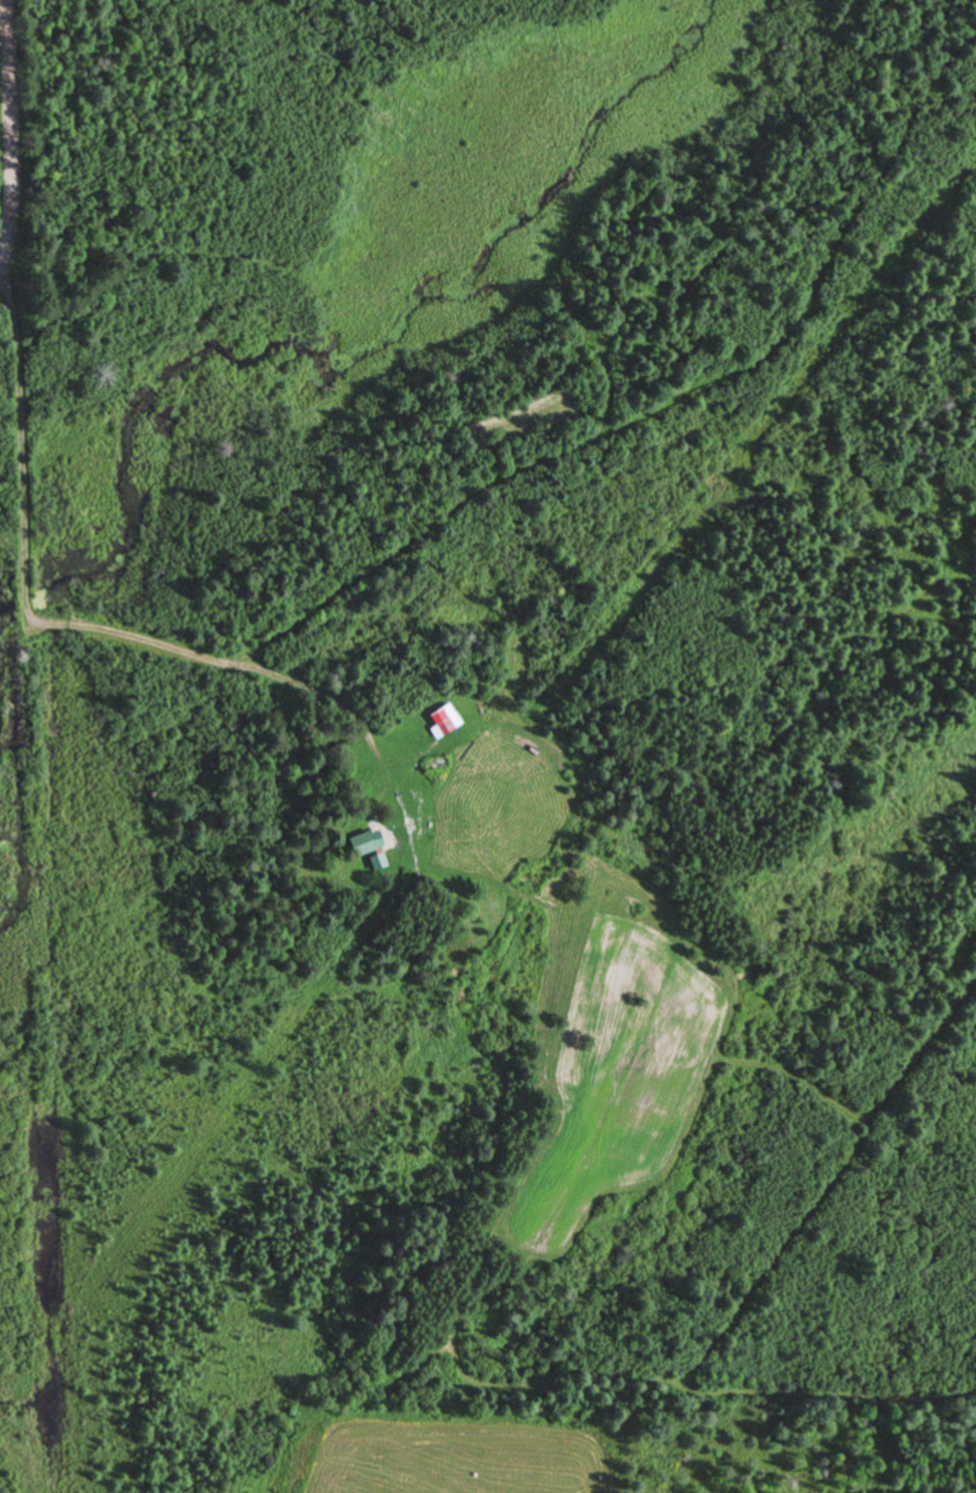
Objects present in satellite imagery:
road: (9, 136)
building: (360, 843)
road: (47, 1329)

